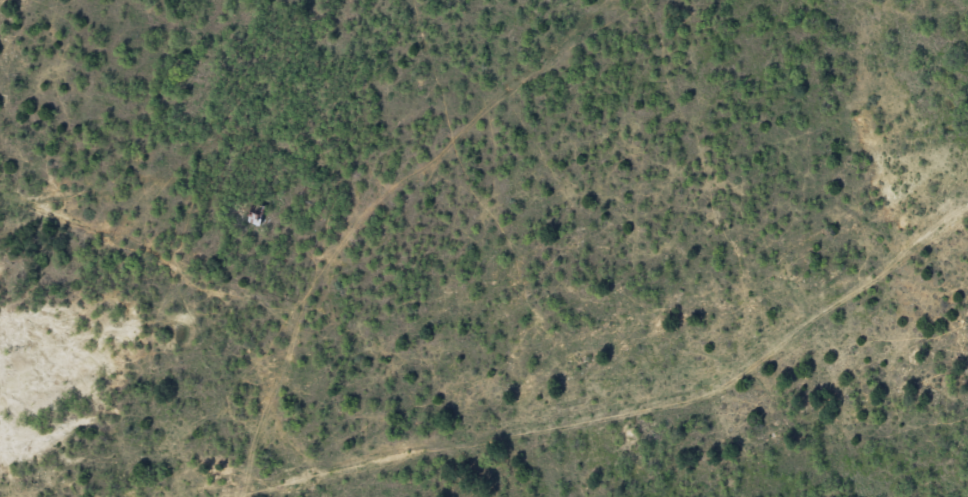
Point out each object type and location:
road: (880, 8)
road: (349, 175)
road: (328, 342)

